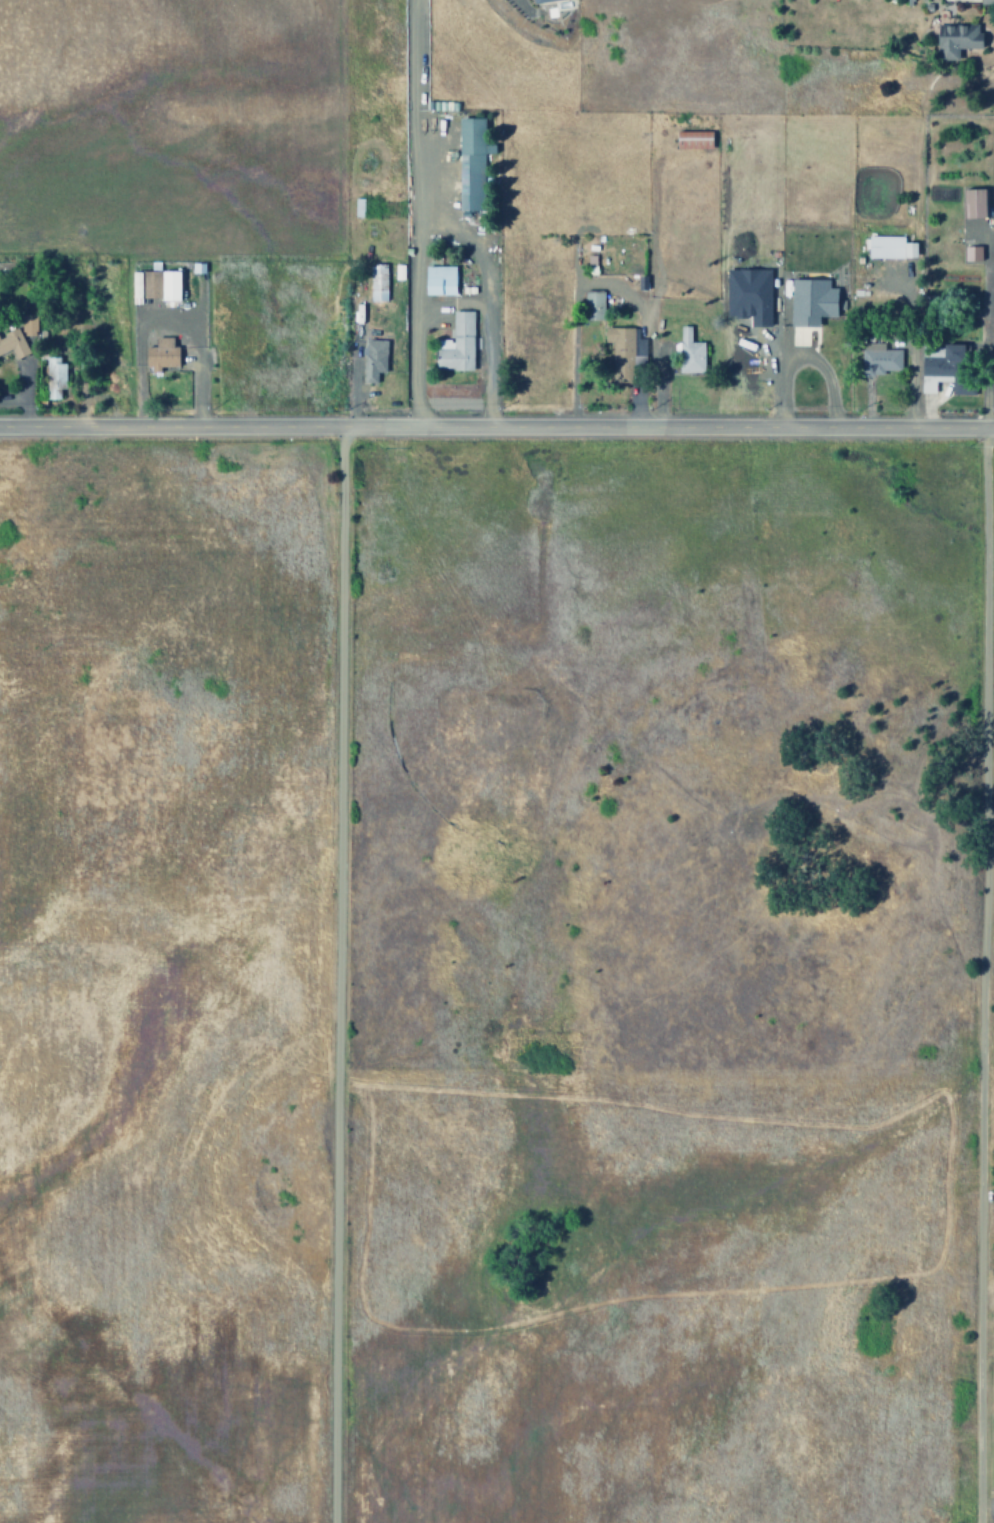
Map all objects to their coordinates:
building: (543, 1)
building: (986, 2)
building: (956, 41)
building: (692, 139)
building: (470, 163)
building: (973, 202)
building: (357, 208)
road: (412, 212)
building: (890, 247)
building: (971, 252)
building: (398, 272)
building: (439, 280)
building: (376, 282)
building: (154, 284)
building: (811, 301)
building: (593, 305)
building: (27, 324)
building: (624, 341)
building: (12, 344)
building: (456, 344)
building: (688, 352)
building: (160, 354)
building: (372, 359)
building: (878, 359)
building: (945, 371)
building: (54, 376)
road: (496, 422)
road: (982, 788)
road: (337, 972)
road: (982, 1337)

